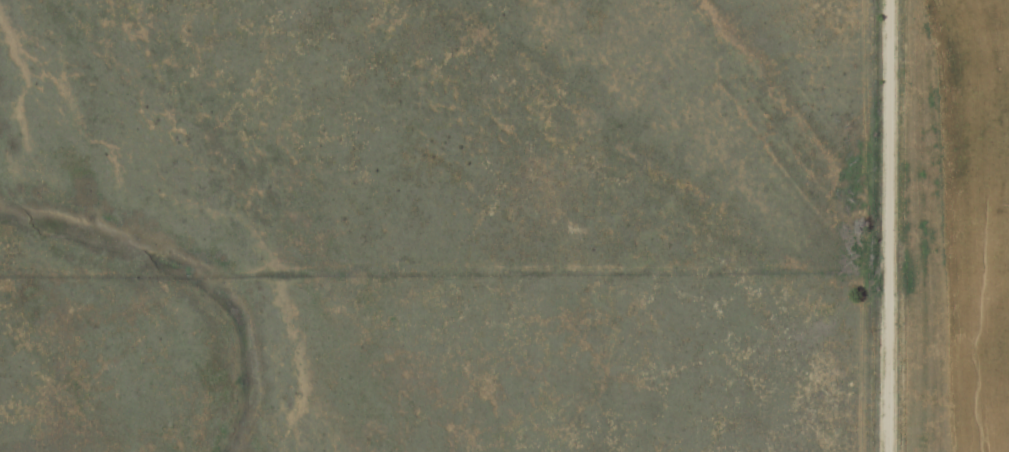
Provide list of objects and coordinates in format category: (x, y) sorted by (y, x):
road: (898, 226)

